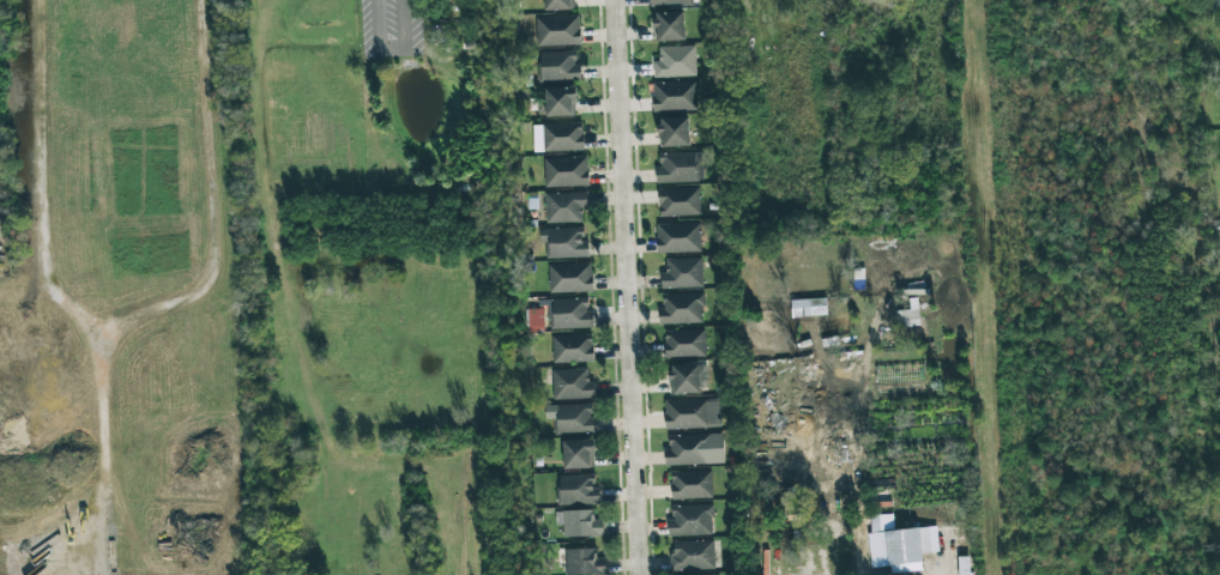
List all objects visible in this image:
building: (671, 2)
building: (1216, 4)
building: (558, 5)
building: (669, 25)
building: (557, 30)
building: (676, 61)
building: (558, 66)
building: (675, 96)
building: (557, 102)
building: (674, 132)
building: (557, 137)
building: (680, 168)
building: (566, 171)
building: (678, 201)
building: (564, 207)
building: (678, 237)
building: (564, 242)
building: (682, 273)
building: (570, 278)
road: (628, 287)
building: (808, 305)
building: (682, 309)
building: (570, 314)
building: (536, 320)
building: (684, 344)
building: (572, 349)
building: (688, 379)
building: (573, 385)
building: (693, 413)
building: (572, 418)
building: (695, 449)
building: (578, 454)
building: (691, 485)
building: (578, 490)
building: (690, 520)
building: (882, 522)
building: (579, 523)
building: (907, 545)
road: (859, 546)
building: (693, 555)
building: (584, 562)

